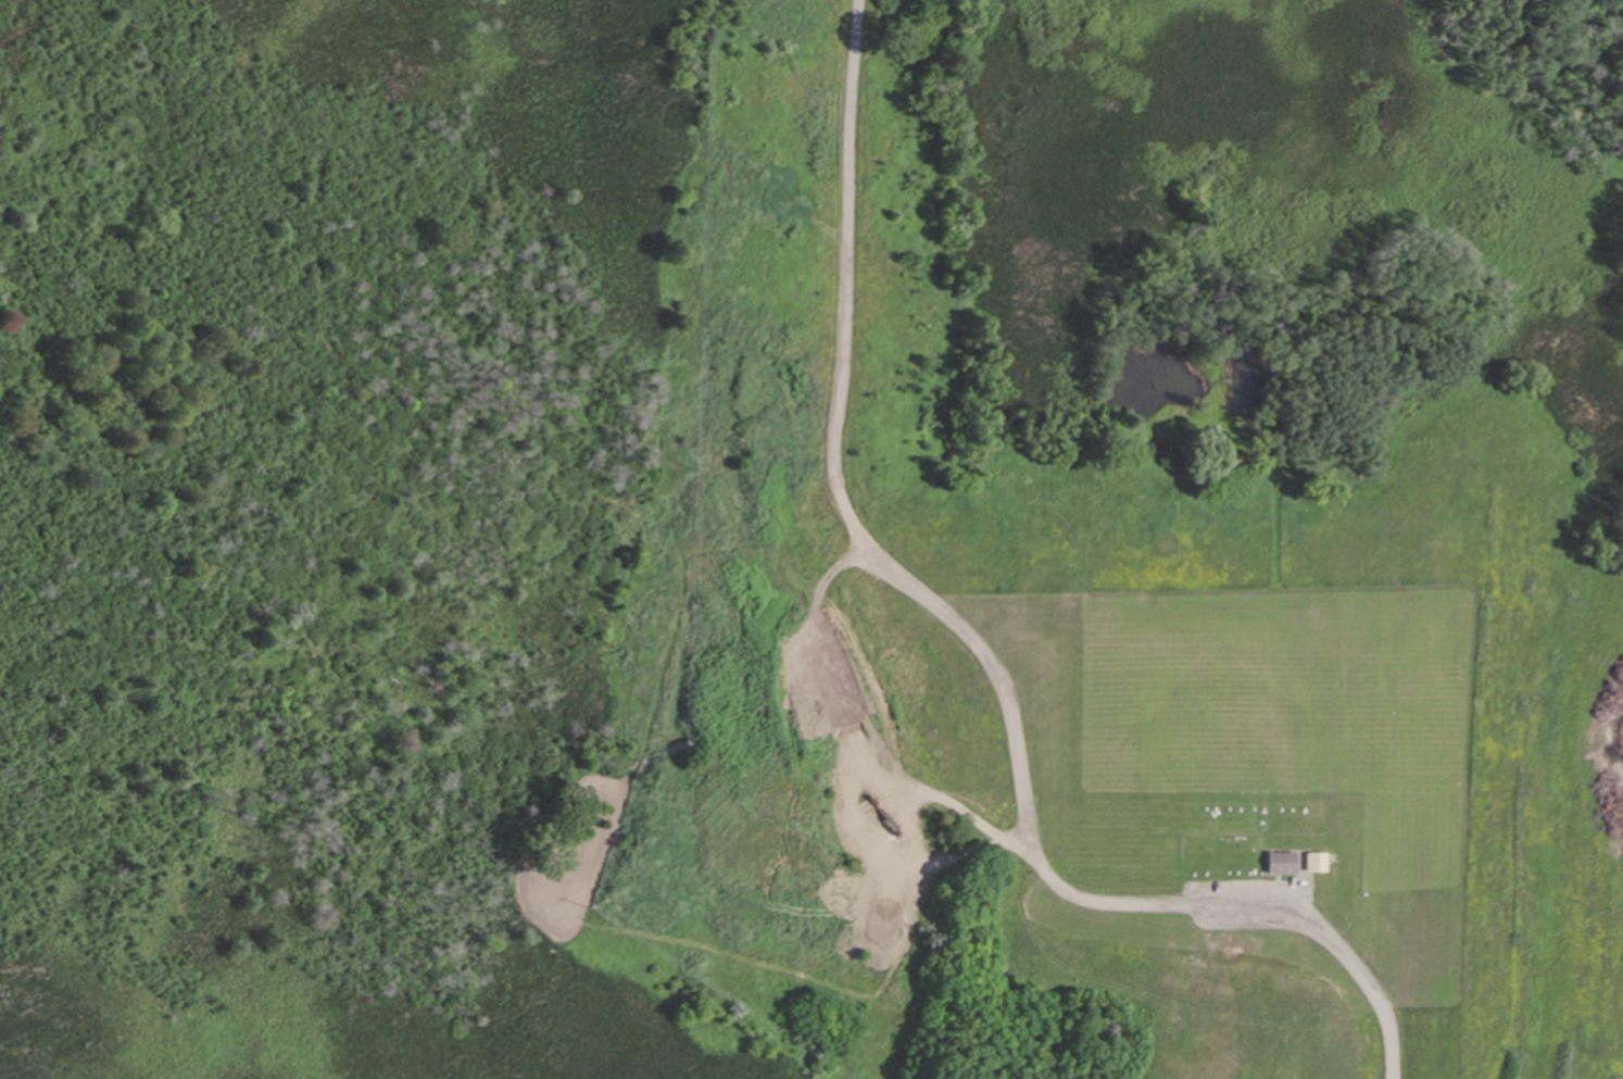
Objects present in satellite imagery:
road: (971, 648)
building: (1308, 861)
building: (1273, 862)

